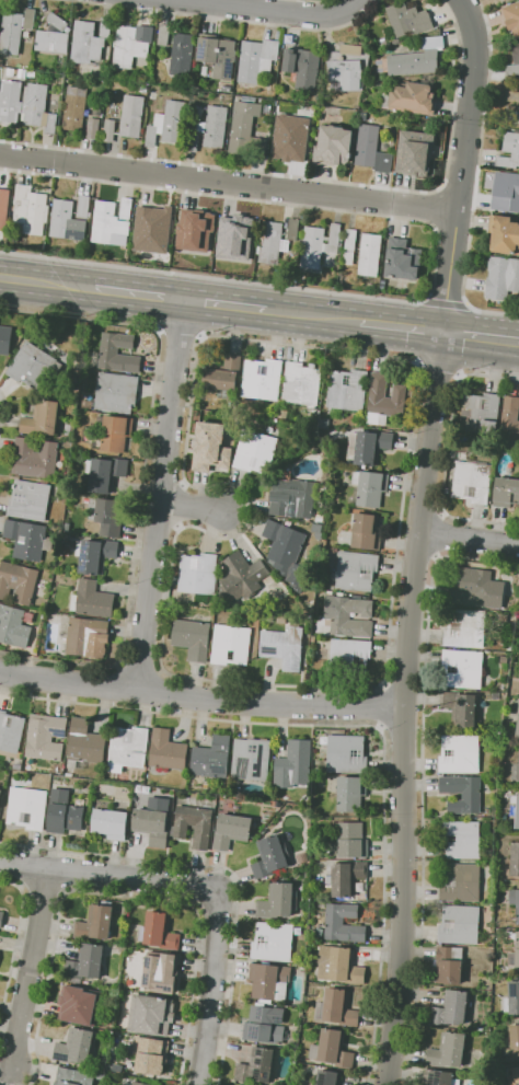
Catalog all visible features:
building: (508, 0)
road: (261, 13)
building: (511, 16)
building: (408, 20)
building: (57, 22)
building: (15, 28)
building: (163, 34)
building: (89, 41)
building: (51, 42)
building: (131, 44)
building: (355, 51)
building: (516, 53)
building: (182, 54)
building: (217, 54)
building: (256, 59)
building: (416, 59)
building: (302, 68)
building: (512, 70)
building: (23, 73)
building: (345, 74)
building: (511, 96)
building: (413, 99)
building: (10, 101)
building: (37, 108)
building: (76, 108)
building: (132, 116)
building: (512, 116)
building: (168, 124)
building: (93, 128)
building: (209, 129)
building: (109, 130)
building: (246, 132)
building: (290, 138)
building: (333, 146)
building: (367, 146)
building: (509, 151)
building: (417, 155)
building: (383, 163)
road: (460, 165)
road: (227, 184)
building: (507, 193)
building: (4, 197)
building: (83, 206)
building: (30, 209)
building: (185, 217)
building: (227, 220)
building: (65, 221)
building: (111, 222)
building: (153, 223)
building: (292, 229)
building: (201, 234)
building: (504, 234)
building: (243, 239)
building: (270, 242)
building: (319, 245)
building: (349, 246)
building: (369, 254)
building: (402, 259)
building: (501, 277)
road: (212, 278)
road: (47, 282)
road: (139, 295)
road: (448, 303)
road: (493, 312)
road: (313, 316)
road: (180, 330)
building: (5, 339)
road: (481, 339)
building: (108, 351)
road: (351, 351)
building: (34, 366)
road: (438, 374)
building: (222, 377)
building: (261, 382)
building: (300, 383)
building: (346, 390)
building: (115, 392)
building: (384, 399)
building: (480, 413)
road: (4, 414)
building: (282, 414)
building: (41, 418)
building: (509, 418)
building: (67, 429)
building: (114, 431)
building: (215, 440)
building: (368, 447)
building: (254, 451)
road: (446, 451)
building: (34, 459)
building: (104, 473)
building: (323, 476)
road: (143, 478)
building: (471, 481)
building: (369, 487)
building: (506, 493)
road: (159, 495)
building: (291, 497)
building: (28, 500)
road: (191, 506)
road: (422, 513)
building: (106, 516)
building: (66, 528)
building: (366, 532)
road: (440, 535)
road: (468, 538)
building: (27, 540)
building: (282, 543)
building: (94, 555)
road: (416, 557)
building: (354, 572)
building: (196, 574)
building: (240, 577)
building: (18, 582)
building: (476, 589)
building: (91, 600)
building: (348, 615)
building: (13, 626)
building: (464, 628)
building: (86, 637)
building: (192, 638)
building: (312, 638)
building: (230, 645)
building: (282, 647)
building: (348, 657)
building: (501, 659)
road: (139, 667)
building: (461, 669)
road: (113, 685)
road: (403, 685)
road: (155, 690)
road: (199, 697)
building: (514, 706)
road: (382, 707)
road: (401, 708)
building: (459, 708)
road: (367, 725)
road: (402, 729)
building: (517, 729)
building: (10, 731)
building: (45, 737)
building: (83, 745)
building: (127, 748)
building: (165, 750)
building: (346, 753)
building: (459, 754)
building: (211, 758)
building: (250, 760)
building: (292, 764)
building: (516, 771)
road: (423, 780)
building: (0, 793)
building: (350, 794)
building: (471, 796)
building: (26, 808)
building: (65, 812)
building: (514, 812)
building: (109, 823)
building: (151, 826)
building: (178, 830)
building: (231, 831)
building: (351, 840)
building: (460, 840)
building: (269, 857)
building: (514, 861)
road: (24, 866)
road: (223, 868)
road: (65, 872)
building: (347, 877)
building: (459, 881)
road: (207, 887)
road: (120, 897)
building: (278, 901)
building: (515, 902)
building: (1, 919)
building: (95, 923)
building: (343, 924)
building: (458, 924)
building: (160, 932)
building: (272, 942)
road: (14, 947)
building: (514, 954)
building: (84, 963)
building: (338, 965)
building: (448, 965)
road: (30, 967)
building: (157, 974)
building: (268, 981)
building: (511, 1000)
building: (81, 1006)
building: (336, 1008)
building: (450, 1008)
building: (150, 1015)
building: (264, 1025)
building: (515, 1041)
building: (76, 1047)
building: (332, 1049)
building: (448, 1051)
building: (152, 1055)
building: (299, 1060)
building: (256, 1066)
building: (512, 1075)
building: (73, 1076)
building: (327, 1077)
building: (438, 1077)
building: (142, 1082)

